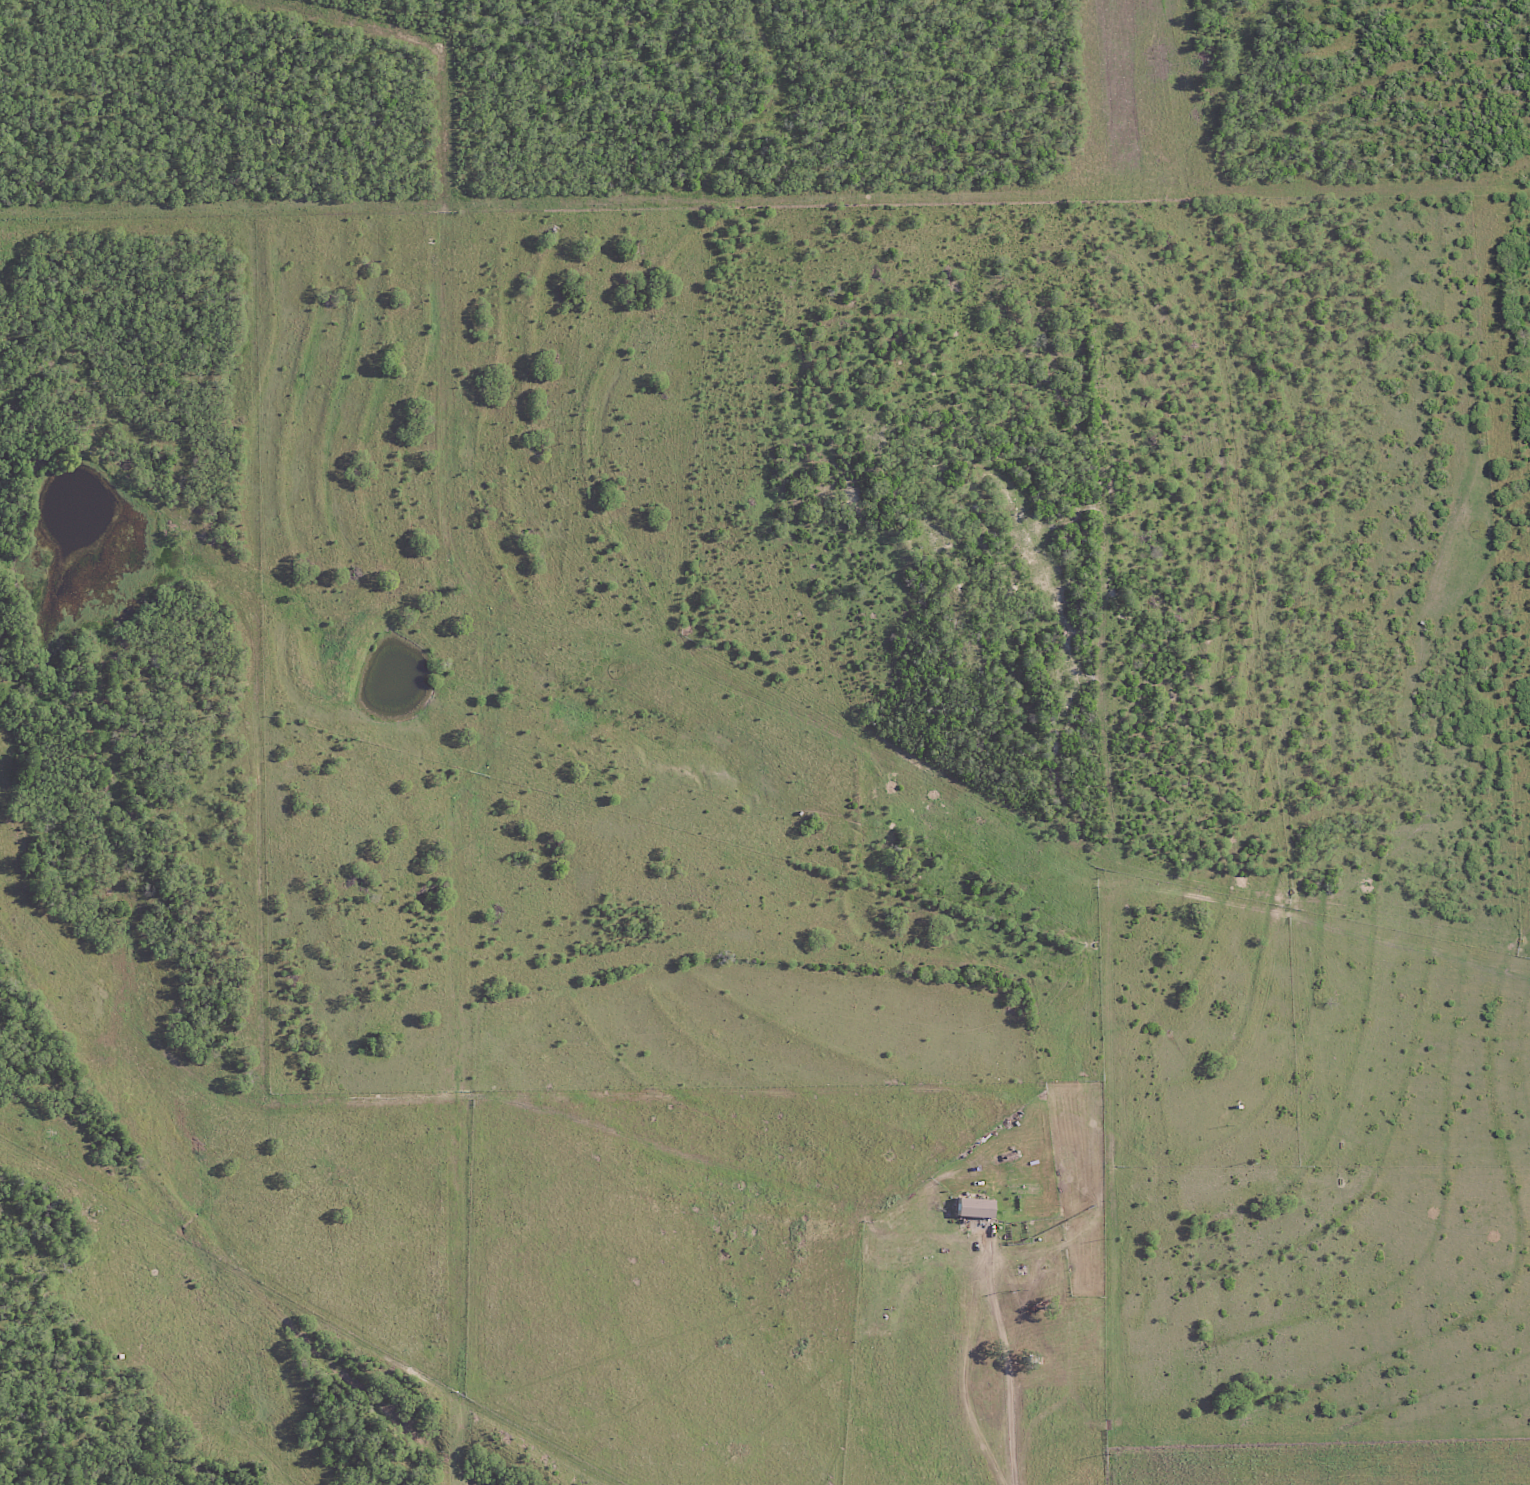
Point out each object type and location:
building: (969, 1208)
road: (992, 1409)

